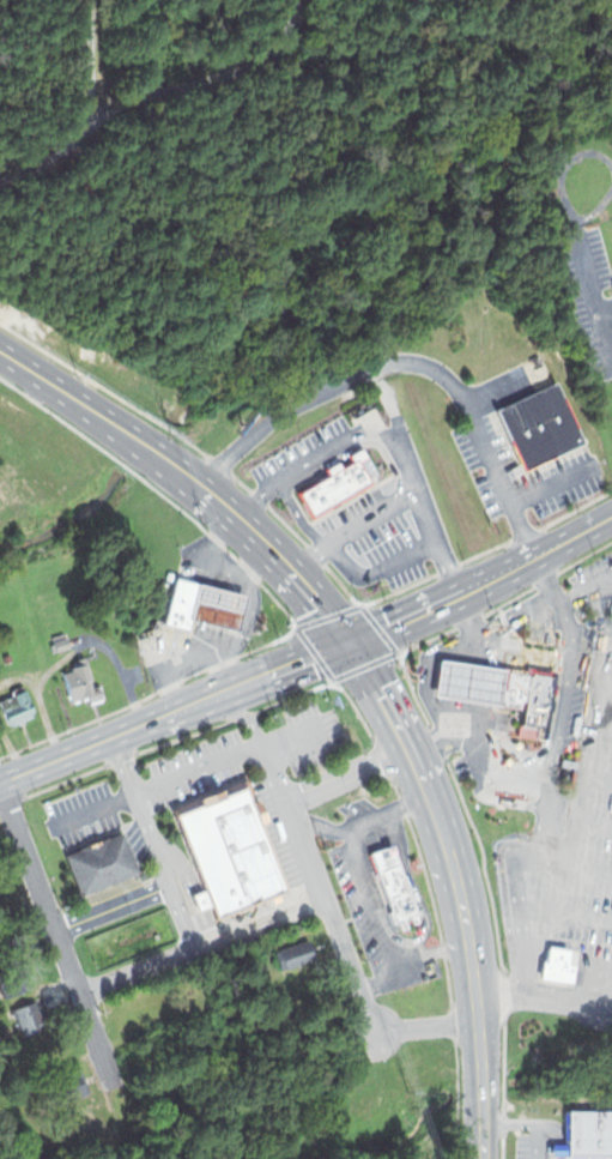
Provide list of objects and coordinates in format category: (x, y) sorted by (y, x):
park: (111, 54)
road: (92, 55)
road: (212, 76)
road: (54, 155)
road: (407, 360)
building: (540, 424)
road: (399, 430)
road: (351, 431)
road: (190, 473)
building: (339, 483)
road: (271, 484)
road: (399, 503)
building: (176, 602)
building: (210, 604)
building: (611, 610)
traffic signals: (350, 640)
building: (59, 641)
building: (153, 647)
road: (309, 656)
building: (6, 657)
building: (462, 681)
building: (83, 683)
building: (526, 698)
building: (16, 705)
road: (242, 713)
road: (183, 772)
road: (347, 773)
building: (511, 803)
road: (153, 840)
building: (225, 849)
building: (95, 862)
building: (395, 885)
road: (460, 887)
road: (113, 906)
road: (56, 931)
road: (338, 937)
road: (200, 944)
building: (293, 954)
building: (556, 966)
building: (12, 979)
road: (545, 996)
building: (151, 1010)
building: (29, 1018)
building: (69, 1086)
building: (587, 1136)

